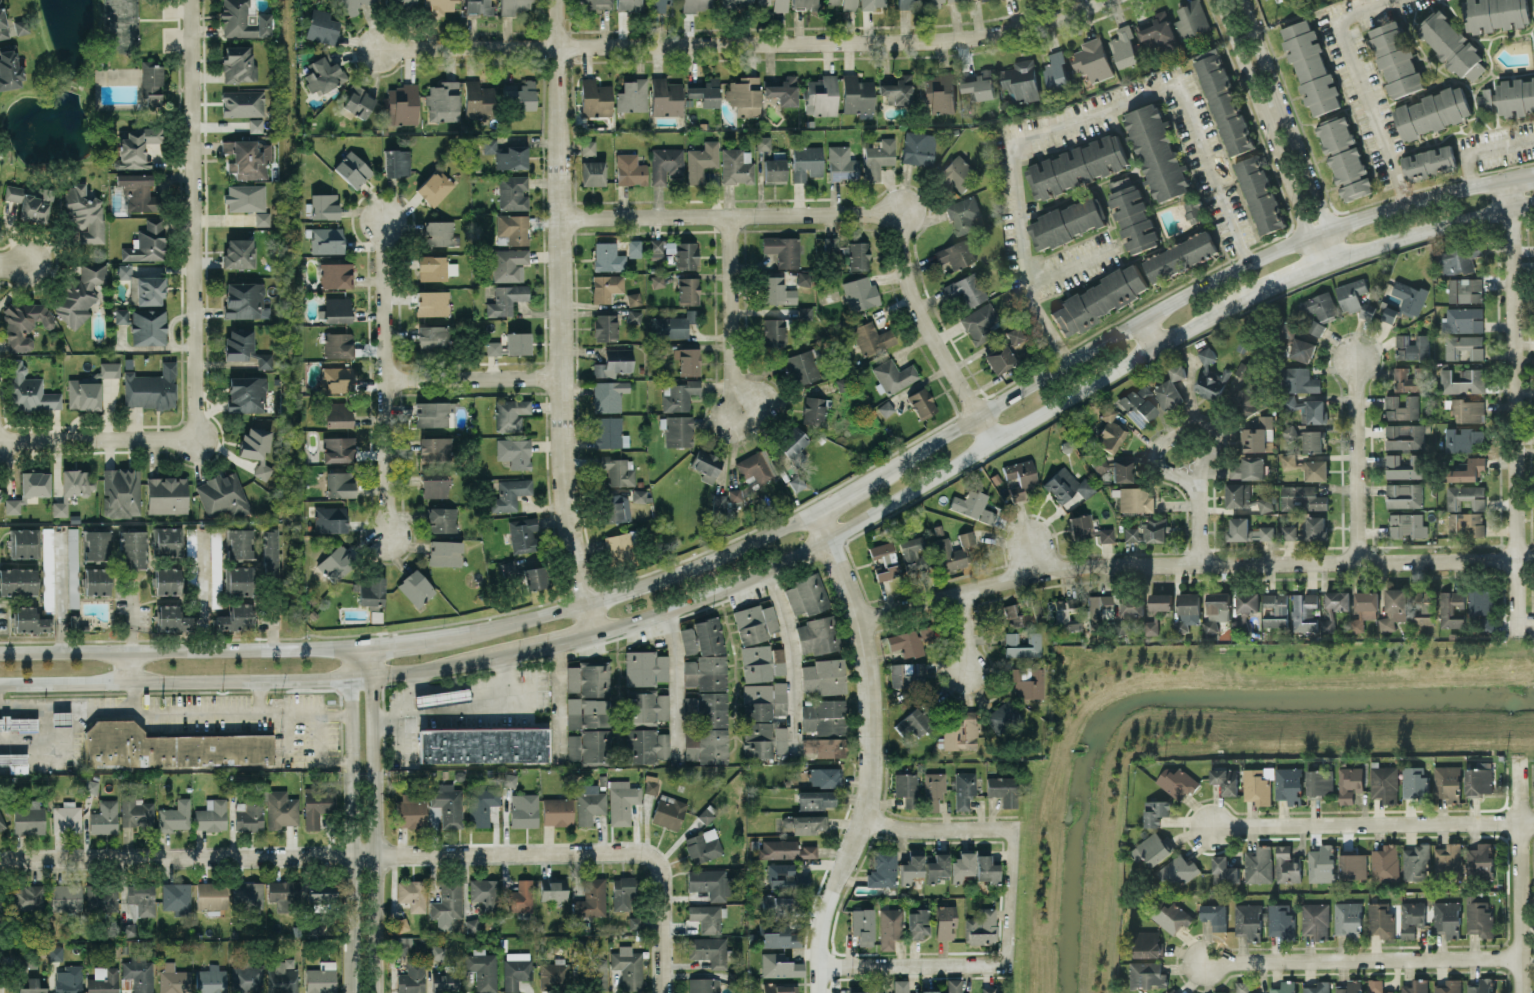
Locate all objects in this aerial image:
building: (983, 0)
building: (403, 1)
building: (938, 2)
building: (736, 3)
building: (594, 4)
building: (775, 4)
building: (804, 4)
building: (844, 4)
building: (872, 4)
building: (910, 4)
building: (353, 5)
building: (628, 5)
building: (661, 5)
building: (697, 5)
building: (437, 6)
building: (514, 6)
building: (478, 7)
building: (1495, 14)
building: (1191, 19)
building: (243, 20)
building: (3, 23)
building: (21, 26)
building: (322, 27)
building: (1158, 31)
road: (738, 42)
building: (1451, 44)
building: (1124, 47)
building: (1395, 57)
building: (1092, 59)
building: (238, 64)
building: (1310, 66)
building: (9, 68)
building: (1056, 72)
building: (323, 74)
building: (1021, 81)
road: (1359, 83)
building: (152, 84)
building: (979, 84)
park: (90, 86)
building: (897, 89)
building: (705, 91)
building: (783, 91)
building: (938, 93)
building: (519, 94)
building: (857, 94)
building: (632, 95)
building: (744, 95)
building: (821, 95)
building: (665, 97)
building: (1509, 97)
building: (595, 98)
building: (477, 100)
building: (358, 101)
building: (444, 101)
building: (1224, 101)
building: (402, 102)
building: (242, 103)
building: (1432, 111)
road: (1071, 121)
building: (255, 125)
road: (1283, 128)
building: (763, 142)
building: (136, 147)
building: (588, 147)
building: (919, 148)
road: (1485, 149)
building: (1156, 151)
building: (509, 155)
building: (1344, 157)
building: (247, 158)
building: (878, 158)
building: (701, 161)
building: (397, 162)
building: (806, 162)
building: (1429, 162)
building: (665, 163)
building: (841, 164)
building: (737, 166)
building: (1077, 166)
building: (352, 169)
building: (630, 169)
building: (774, 170)
building: (592, 173)
building: (958, 173)
building: (435, 187)
building: (138, 192)
building: (513, 192)
building: (12, 193)
building: (1260, 193)
building: (245, 197)
building: (36, 205)
building: (324, 205)
building: (1193, 210)
building: (963, 214)
building: (1132, 214)
road: (731, 215)
building: (84, 216)
building: (262, 218)
road: (191, 219)
building: (1066, 222)
building: (513, 228)
road: (1430, 228)
building: (440, 233)
building: (327, 240)
building: (146, 242)
building: (832, 243)
building: (634, 248)
building: (783, 250)
building: (238, 252)
building: (677, 252)
building: (955, 254)
building: (858, 255)
building: (1180, 255)
building: (608, 257)
building: (1458, 259)
road: (1072, 263)
building: (509, 264)
road: (14, 265)
building: (435, 268)
building: (124, 271)
road: (1295, 274)
building: (336, 275)
building: (803, 278)
building: (656, 281)
building: (606, 287)
building: (966, 289)
building: (1464, 289)
building: (147, 290)
building: (688, 290)
building: (777, 291)
building: (80, 293)
building: (860, 293)
building: (1351, 294)
building: (1409, 296)
building: (633, 298)
building: (506, 299)
building: (1099, 299)
building: (245, 300)
building: (432, 302)
building: (1318, 305)
building: (337, 309)
road: (736, 312)
building: (1389, 313)
building: (121, 315)
building: (634, 316)
road: (558, 318)
building: (1462, 319)
building: (24, 323)
building: (980, 323)
building: (672, 325)
building: (147, 327)
building: (605, 327)
building: (1316, 327)
building: (1287, 329)
building: (773, 330)
road: (933, 330)
road: (1150, 330)
building: (1013, 335)
building: (433, 337)
building: (872, 338)
building: (518, 343)
building: (338, 345)
building: (1463, 345)
building: (1411, 346)
building: (493, 347)
building: (244, 348)
building: (1301, 349)
building: (1017, 350)
building: (999, 358)
building: (688, 360)
building: (614, 362)
building: (803, 366)
building: (1244, 370)
building: (894, 375)
road: (387, 377)
road: (473, 377)
building: (1210, 377)
building: (1408, 378)
building: (337, 379)
building: (1298, 379)
building: (1463, 380)
building: (90, 387)
building: (150, 387)
building: (1171, 388)
building: (29, 390)
building: (246, 394)
building: (609, 395)
building: (679, 395)
building: (1244, 398)
building: (922, 402)
road: (1512, 403)
building: (1139, 405)
building: (1401, 406)
building: (813, 408)
building: (885, 408)
building: (1307, 408)
building: (1467, 409)
building: (338, 414)
building: (434, 414)
building: (510, 414)
building: (679, 430)
building: (1109, 431)
building: (1288, 431)
building: (609, 432)
road: (1181, 432)
building: (1257, 434)
building: (1405, 435)
road: (96, 438)
building: (1462, 438)
building: (1313, 440)
building: (793, 444)
building: (256, 447)
building: (338, 449)
building: (434, 449)
building: (514, 452)
road: (1359, 457)
building: (1099, 463)
building: (706, 464)
building: (1404, 466)
building: (756, 468)
building: (1248, 468)
building: (1470, 468)
building: (1316, 469)
building: (615, 470)
building: (1121, 471)
road: (935, 476)
building: (1020, 477)
building: (77, 481)
building: (34, 483)
building: (797, 483)
building: (339, 484)
building: (434, 485)
building: (1067, 485)
building: (0, 490)
building: (121, 492)
building: (510, 493)
building: (167, 494)
building: (735, 494)
building: (1404, 494)
building: (222, 495)
building: (638, 495)
building: (1239, 495)
building: (1465, 496)
building: (1302, 497)
building: (1134, 499)
building: (719, 501)
building: (1264, 503)
building: (973, 505)
building: (12, 506)
building: (59, 508)
building: (616, 508)
road: (797, 515)
building: (330, 519)
building: (442, 519)
building: (1465, 522)
road: (1195, 523)
building: (1407, 524)
building: (1088, 528)
building: (1147, 529)
building: (1247, 529)
building: (522, 534)
building: (966, 537)
building: (166, 541)
building: (23, 542)
building: (238, 543)
building: (96, 544)
building: (191, 544)
building: (620, 548)
building: (132, 549)
building: (269, 551)
building: (445, 553)
building: (914, 553)
road: (1036, 553)
building: (949, 555)
building: (884, 561)
road: (1194, 562)
building: (334, 563)
building: (72, 567)
building: (47, 569)
building: (534, 578)
building: (237, 580)
building: (18, 581)
building: (96, 581)
building: (168, 581)
road: (204, 587)
building: (415, 588)
building: (370, 590)
building: (807, 594)
road: (59, 598)
building: (1160, 600)
building: (1480, 600)
building: (1247, 601)
building: (1132, 604)
building: (1097, 605)
building: (1422, 607)
building: (1451, 607)
building: (1363, 608)
building: (1393, 608)
building: (1217, 609)
building: (1275, 609)
building: (1333, 609)
building: (1187, 611)
building: (1304, 611)
building: (1018, 615)
building: (1066, 615)
building: (235, 617)
road: (131, 619)
building: (171, 619)
building: (29, 620)
building: (755, 623)
building: (1486, 623)
building: (1125, 626)
building: (1150, 627)
road: (967, 630)
building: (708, 635)
building: (817, 635)
building: (1011, 638)
building: (688, 640)
building: (910, 640)
road: (549, 646)
road: (791, 654)
building: (761, 663)
road: (130, 666)
road: (438, 667)
building: (645, 667)
building: (705, 672)
building: (907, 675)
building: (824, 676)
road: (360, 677)
road: (672, 677)
building: (589, 678)
road: (175, 680)
building: (1026, 681)
road: (419, 690)
road: (259, 693)
building: (441, 696)
road: (557, 698)
building: (762, 699)
building: (646, 707)
road: (232, 708)
building: (707, 708)
road: (462, 709)
building: (588, 712)
building: (824, 717)
building: (60, 718)
building: (1004, 719)
building: (18, 723)
building: (961, 732)
building: (758, 739)
building: (780, 739)
building: (484, 744)
building: (646, 745)
building: (706, 745)
building: (590, 746)
building: (824, 746)
building: (170, 747)
road: (874, 748)
building: (14, 761)
building: (824, 777)
building: (1478, 777)
building: (509, 779)
building: (1225, 779)
building: (1177, 781)
building: (1319, 781)
building: (1414, 781)
building: (1447, 781)
building: (1349, 782)
building: (1384, 782)
building: (651, 784)
building: (1258, 784)
building: (1288, 784)
building: (907, 788)
building: (964, 789)
building: (933, 790)
building: (1003, 790)
building: (815, 800)
building: (622, 801)
building: (589, 803)
building: (448, 804)
building: (481, 804)
building: (316, 806)
building: (281, 809)
building: (411, 809)
building: (524, 810)
building: (557, 811)
building: (668, 811)
building: (1156, 811)
building: (135, 812)
building: (211, 815)
building: (248, 815)
building: (705, 815)
building: (175, 816)
building: (104, 817)
road: (374, 817)
building: (67, 818)
road: (350, 818)
road: (1372, 820)
building: (2, 823)
building: (805, 823)
road: (937, 830)
building: (703, 845)
building: (1152, 848)
building: (785, 849)
road: (554, 854)
road: (186, 855)
building: (1448, 858)
building: (1480, 860)
building: (1385, 861)
building: (1415, 862)
building: (1258, 863)
building: (1321, 863)
building: (1286, 865)
building: (1352, 865)
building: (961, 866)
building: (936, 867)
building: (911, 868)
building: (986, 869)
building: (1224, 869)
building: (883, 870)
building: (1176, 871)
building: (786, 876)
building: (709, 882)
road: (1519, 882)
building: (553, 889)
building: (283, 893)
building: (484, 893)
building: (622, 893)
building: (248, 894)
building: (322, 894)
building: (413, 894)
building: (211, 896)
building: (27, 897)
building: (66, 897)
building: (101, 897)
building: (142, 897)
building: (519, 897)
road: (1008, 897)
building: (176, 898)
building: (592, 898)
building: (447, 904)
building: (778, 905)
building: (1214, 914)
building: (1170, 915)
building: (1411, 917)
building: (1447, 917)
building: (707, 918)
building: (1347, 918)
building: (1380, 918)
building: (1479, 918)
building: (1315, 919)
building: (1248, 920)
building: (1280, 920)
building: (635, 922)
building: (917, 922)
building: (944, 922)
building: (401, 924)
building: (863, 925)
building: (890, 927)
building: (981, 927)
building: (128, 929)
building: (779, 936)
building: (1146, 943)
building: (401, 945)
building: (709, 950)
building: (55, 952)
building: (436, 952)
road: (1365, 958)
road: (660, 964)
road: (912, 964)
building: (779, 965)
building: (628, 968)
building: (482, 969)
building: (516, 969)
building: (554, 972)
building: (139, 973)
building: (598, 973)
building: (1147, 974)
building: (283, 977)
building: (247, 978)
building: (321, 978)
building: (412, 978)
building: (68, 979)
building: (173, 979)
building: (445, 979)
building: (103, 980)
building: (211, 980)
building: (32, 984)
building: (703, 985)
building: (900, 986)
building: (1350, 986)
building: (1377, 986)
building: (1416, 986)
building: (1449, 986)
building: (1482, 986)
building: (1284, 987)
building: (1317, 987)
building: (780, 988)
building: (873, 988)
building: (991, 989)
building: (930, 991)
building: (1172, 991)
building: (1219, 991)
building: (1183, 992)

